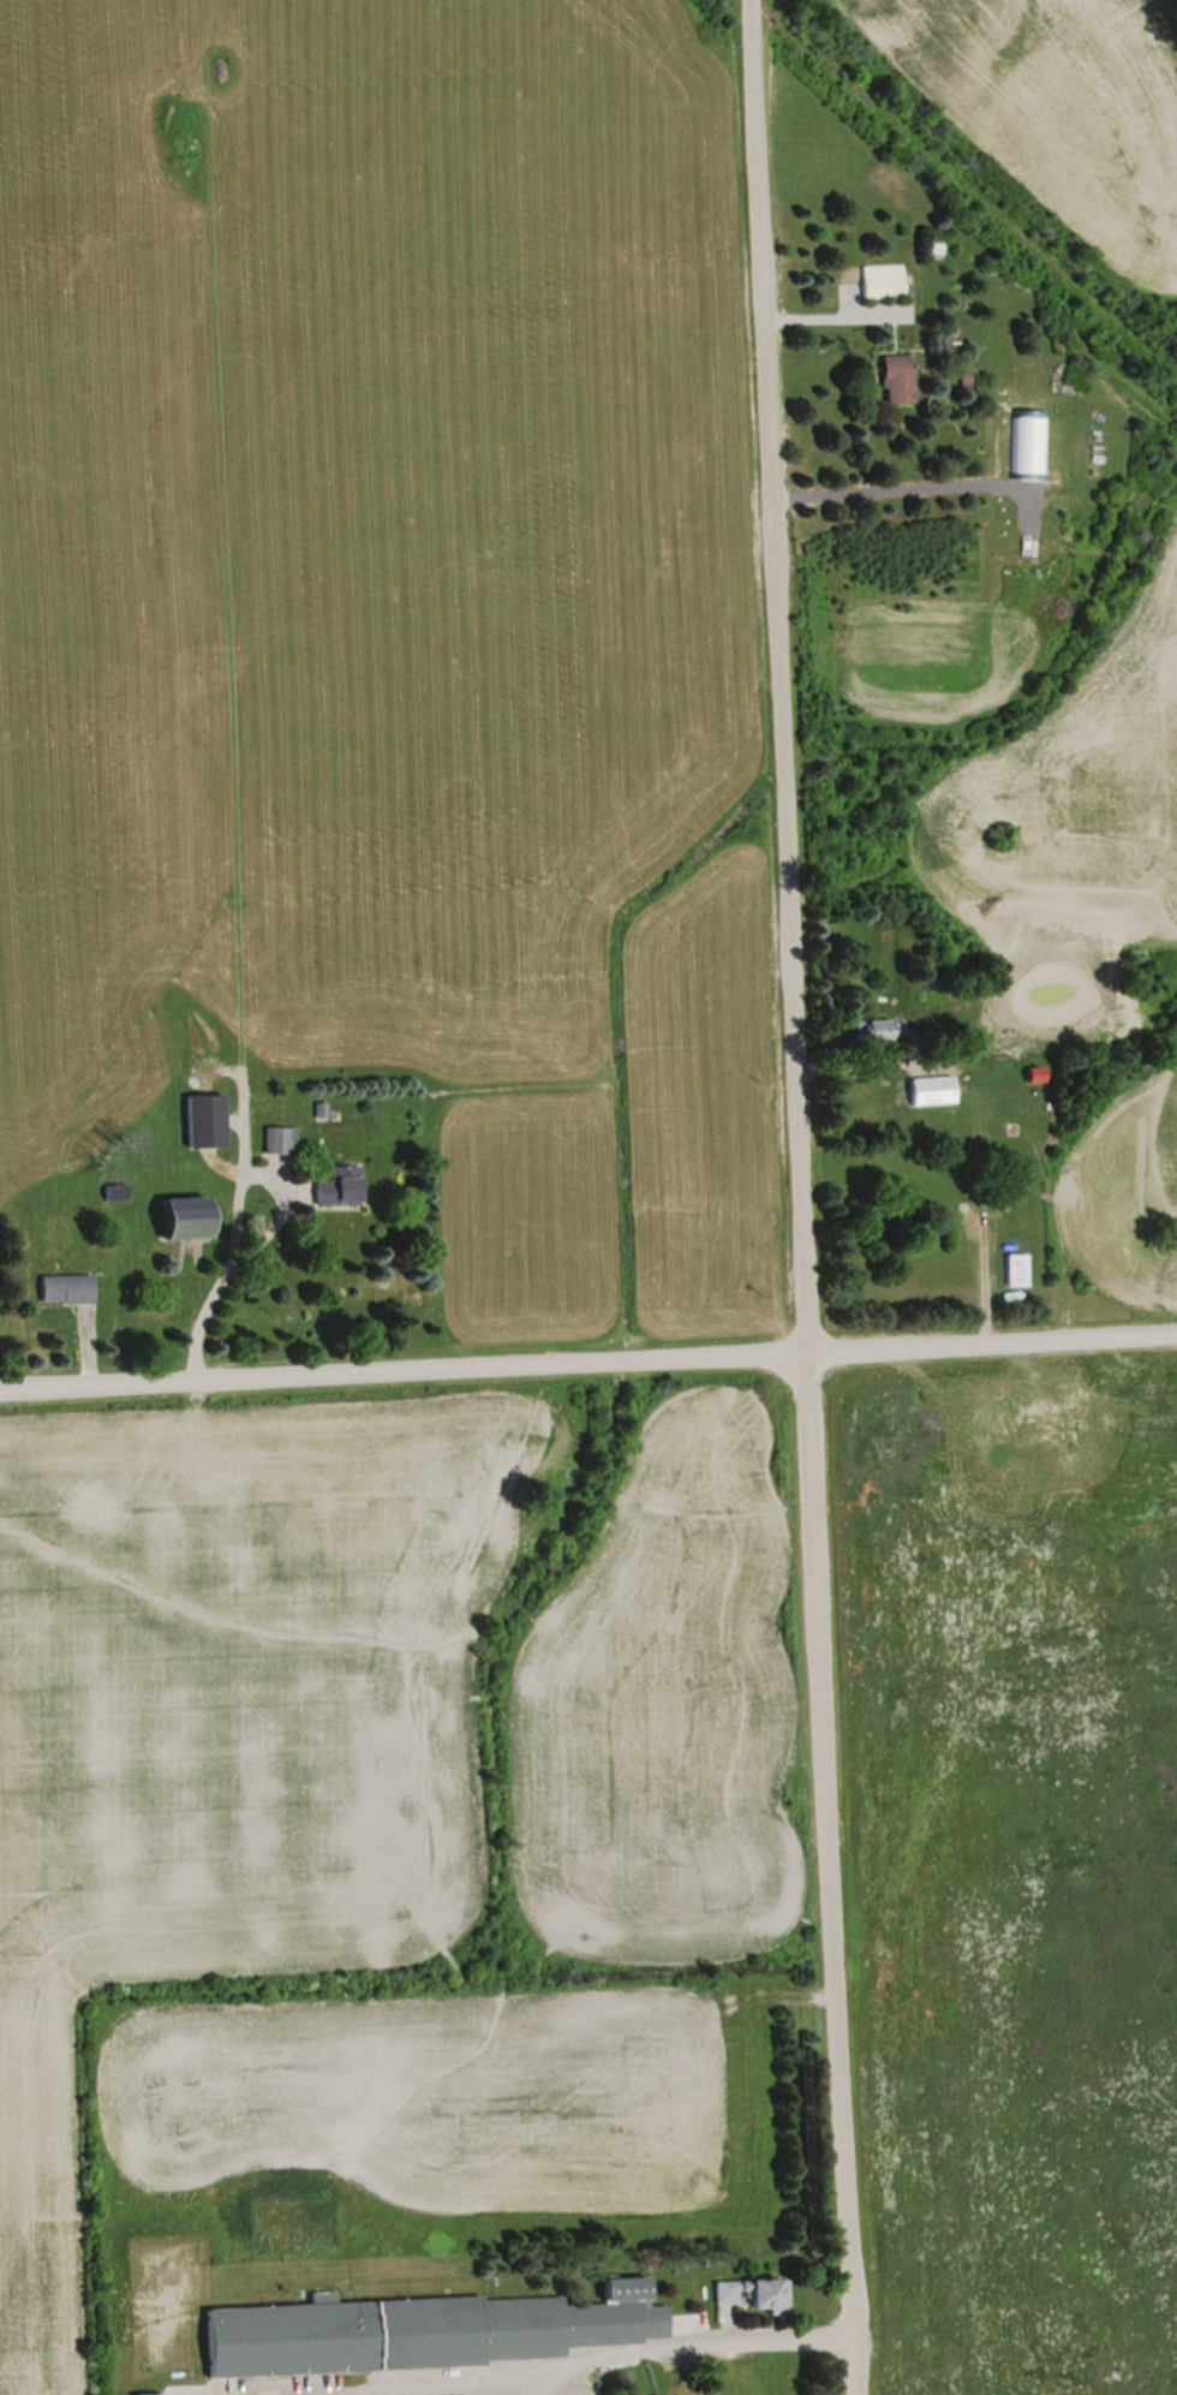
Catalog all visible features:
railway: (963, 191)
building: (883, 280)
building: (900, 380)
building: (1076, 994)
building: (877, 1030)
building: (933, 1089)
building: (205, 1119)
building: (281, 1138)
building: (341, 1185)
road: (794, 1197)
building: (190, 1216)
building: (1017, 1270)
building: (66, 1288)
road: (587, 1360)
building: (1157, 1428)
building: (753, 2293)
building: (428, 2331)
road: (676, 2342)

